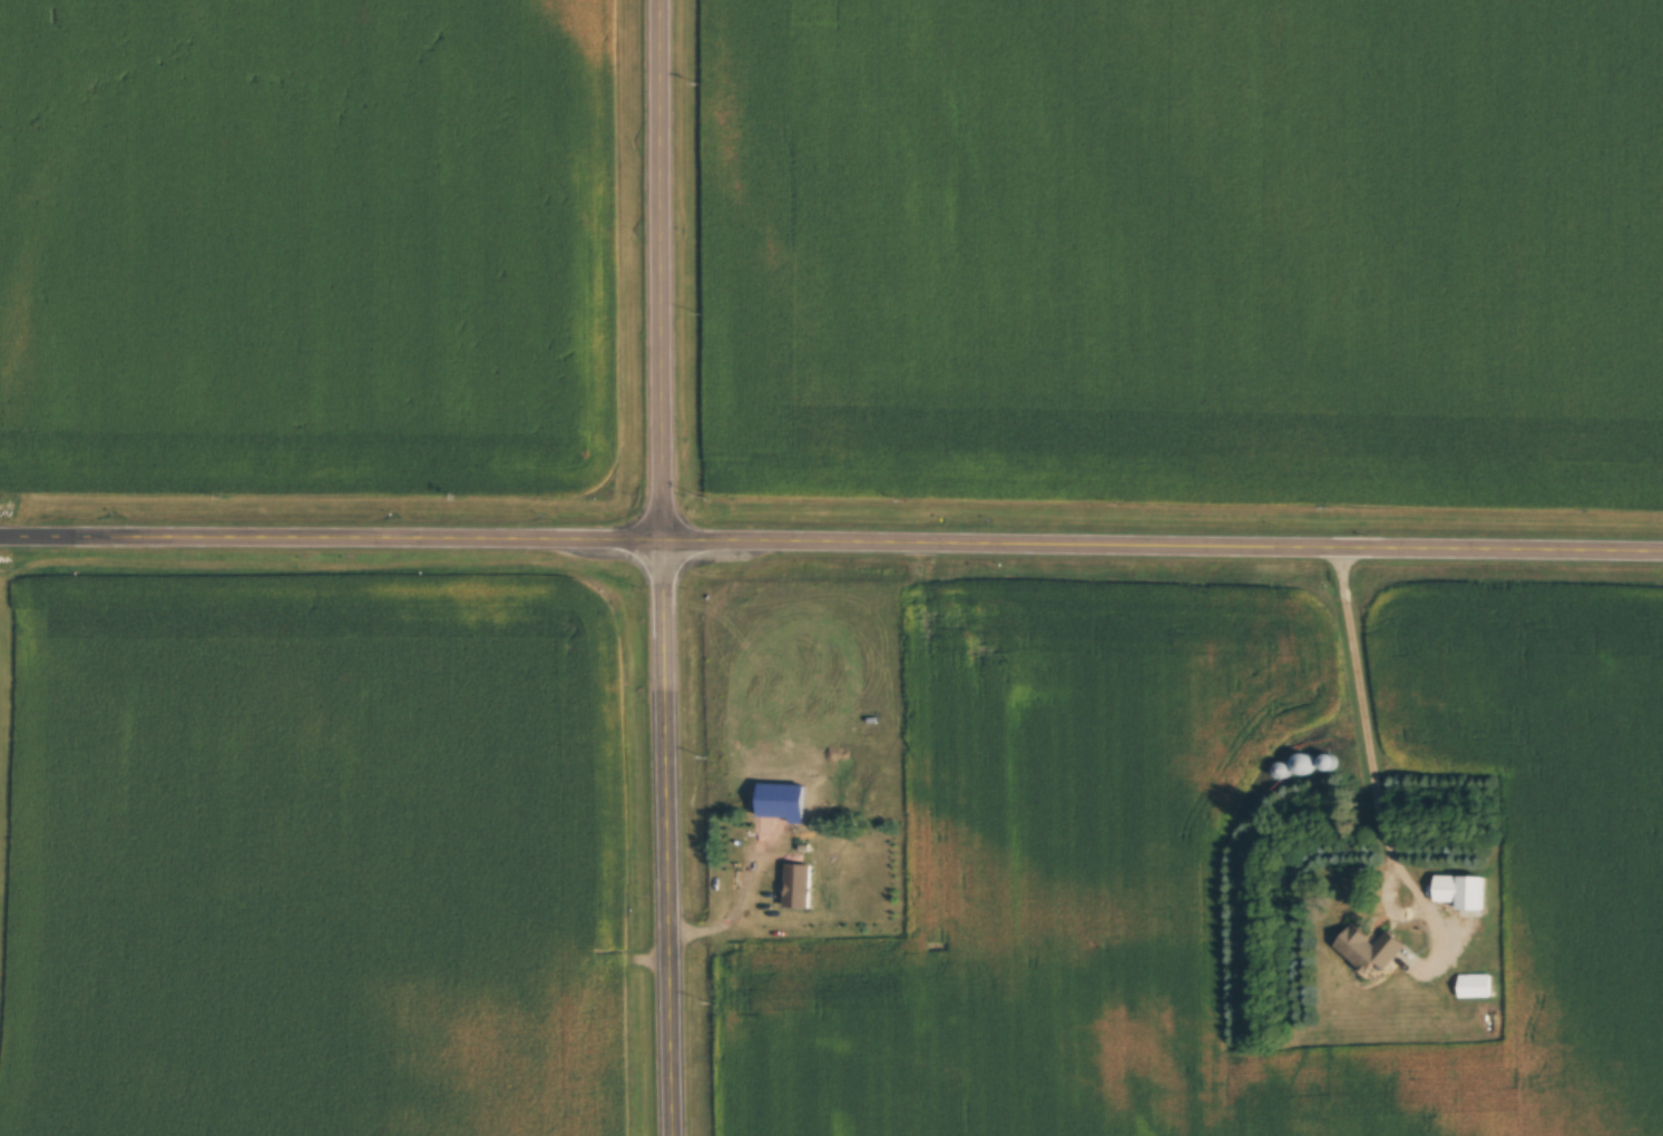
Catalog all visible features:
road: (831, 536)
road: (657, 568)
road: (1372, 760)
building: (799, 887)
building: (1463, 894)
road: (734, 904)
building: (1371, 949)
building: (1476, 982)

